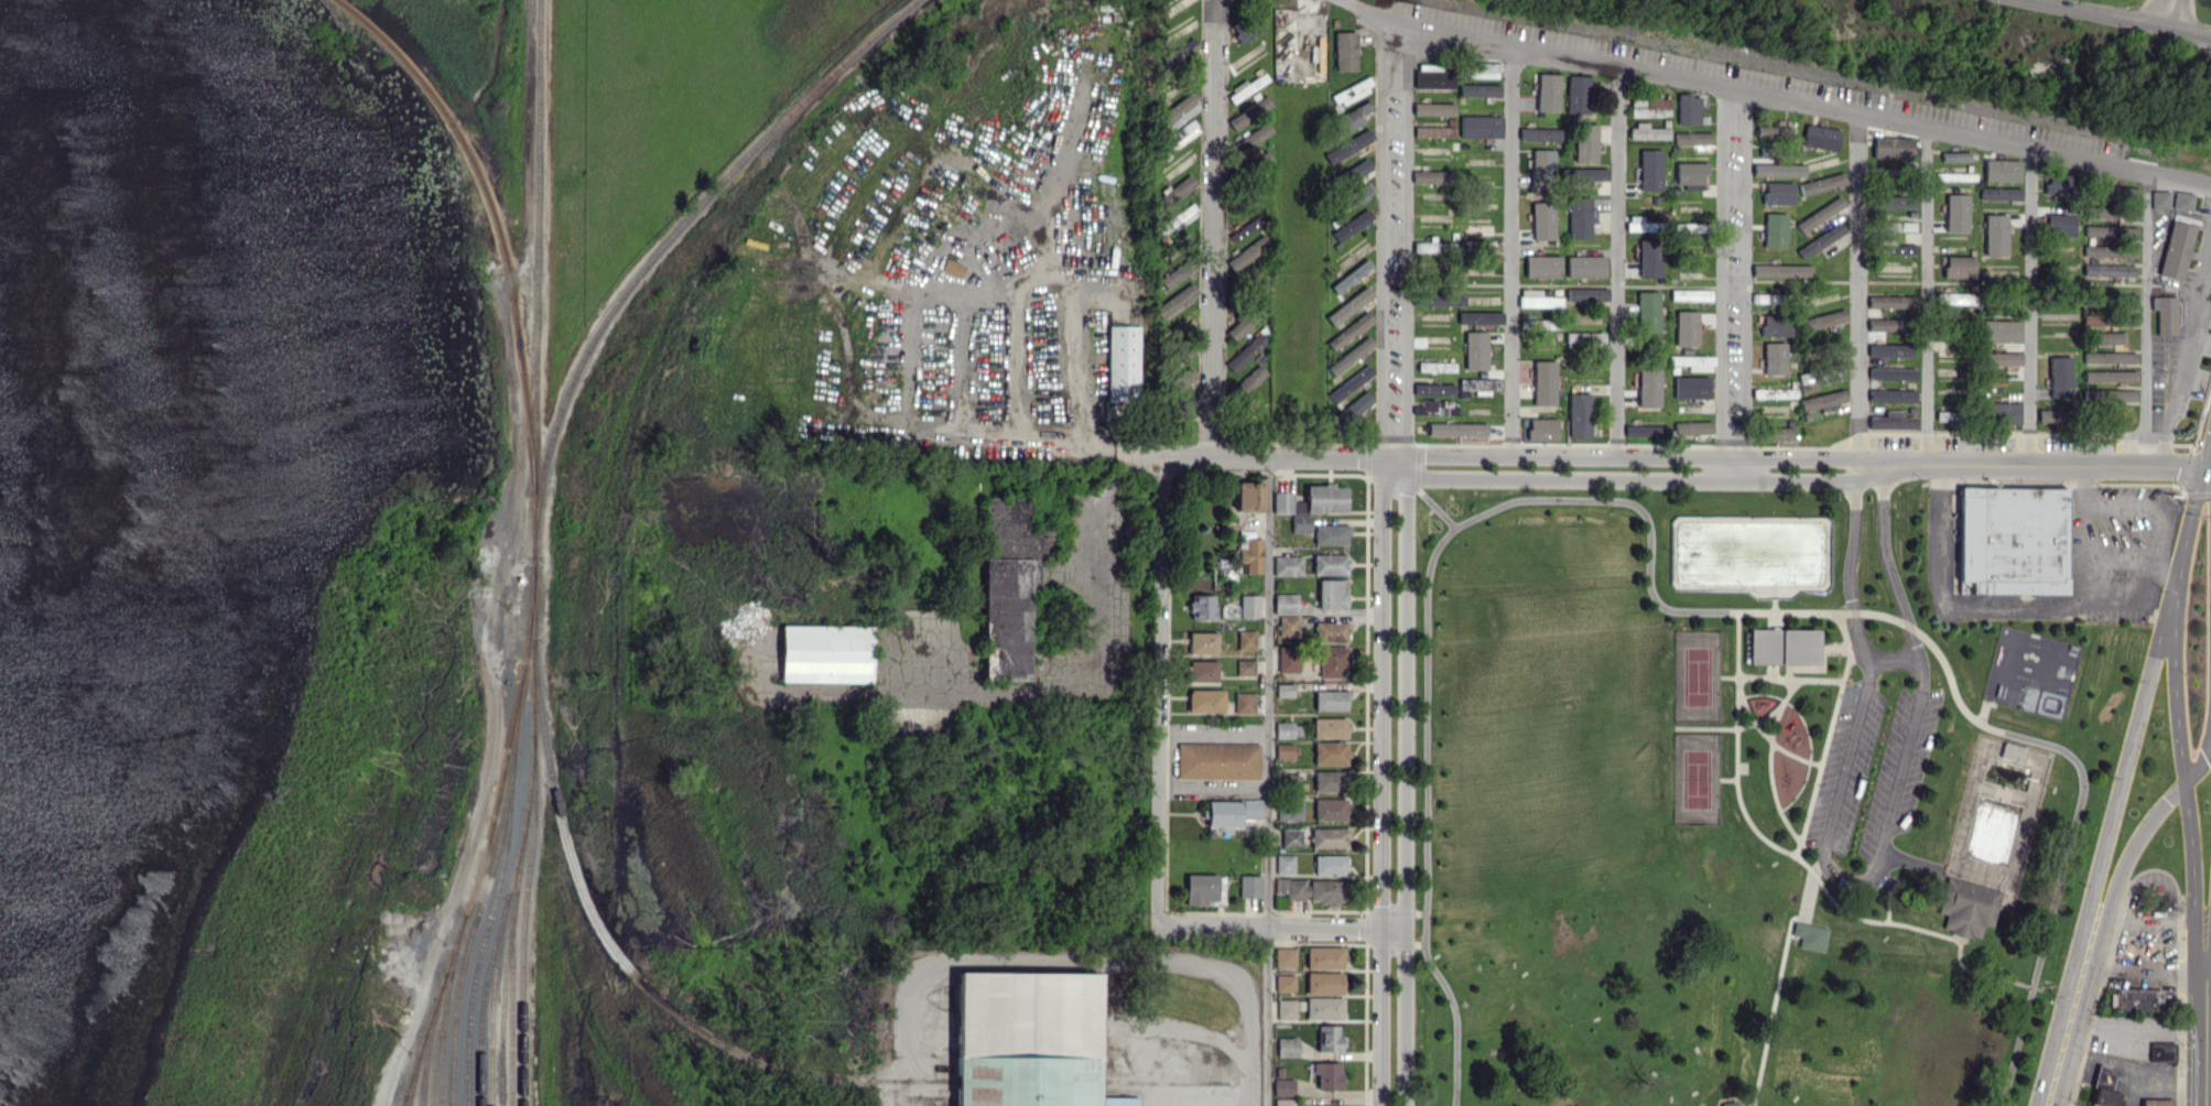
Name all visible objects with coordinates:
road: (2161, 10)
road: (2125, 14)
building: (1248, 30)
building: (1345, 51)
building: (1180, 52)
building: (1481, 69)
building: (1433, 79)
building: (1247, 86)
building: (1478, 90)
road: (1774, 90)
building: (1548, 91)
building: (1351, 93)
building: (1576, 94)
building: (1649, 107)
building: (1433, 108)
building: (1688, 109)
building: (1179, 111)
building: (1249, 112)
building: (1354, 116)
building: (1480, 126)
building: (1433, 131)
building: (1647, 131)
building: (1773, 131)
building: (1539, 133)
building: (1181, 134)
building: (1820, 137)
building: (1692, 138)
building: (1585, 142)
building: (1348, 145)
building: (1892, 148)
building: (1954, 155)
building: (1357, 169)
building: (1541, 169)
building: (1650, 170)
building: (1778, 170)
building: (2001, 170)
building: (1583, 174)
building: (1690, 174)
building: (1431, 176)
building: (1821, 183)
building: (2056, 185)
building: (1178, 189)
building: (1778, 193)
building: (1999, 193)
building: (1356, 196)
building: (2159, 199)
building: (2181, 200)
building: (1895, 202)
building: (1955, 213)
building: (1820, 214)
building: (1579, 217)
railway: (495, 219)
building: (1177, 219)
building: (1542, 220)
building: (1639, 224)
building: (1352, 225)
building: (2059, 225)
road: (1214, 228)
building: (1686, 228)
building: (1775, 230)
building: (2109, 231)
building: (1995, 234)
building: (1820, 240)
railway: (669, 242)
road: (1395, 242)
building: (1424, 247)
building: (1897, 248)
building: (2176, 250)
building: (2109, 251)
building: (1247, 253)
road: (1508, 256)
building: (1649, 258)
building: (1542, 265)
building: (1585, 265)
road: (1617, 265)
building: (951, 267)
building: (1959, 267)
building: (1781, 270)
building: (2109, 270)
building: (1177, 273)
building: (1351, 275)
road: (1731, 275)
railway: (537, 278)
road: (1857, 289)
road: (1000, 291)
building: (1586, 293)
building: (1690, 294)
road: (1927, 295)
building: (1766, 297)
building: (1955, 297)
building: (1439, 299)
building: (1538, 299)
building: (1175, 300)
building: (1888, 301)
building: (1348, 306)
road: (2029, 306)
building: (1648, 311)
building: (2165, 314)
building: (1480, 317)
road: (2145, 318)
building: (1246, 319)
building: (1822, 319)
building: (2093, 319)
building: (1536, 324)
building: (1773, 324)
building: (1883, 324)
building: (1686, 328)
building: (1350, 330)
building: (1999, 330)
building: (1584, 337)
building: (2106, 337)
building: (1946, 348)
building: (1889, 349)
building: (1475, 350)
building: (1246, 351)
building: (1350, 355)
road: (2189, 356)
building: (2109, 357)
building: (1774, 358)
building: (2001, 358)
road: (1017, 359)
building: (1692, 361)
building: (1123, 364)
building: (1435, 366)
building: (1892, 373)
building: (2059, 376)
building: (2109, 376)
building: (1182, 379)
building: (1248, 380)
building: (1543, 382)
building: (1350, 383)
building: (1476, 387)
building: (1648, 387)
building: (1691, 387)
building: (1433, 389)
building: (1774, 392)
building: (1892, 394)
building: (2109, 395)
building: (1822, 400)
building: (1351, 410)
building: (2002, 412)
building: (1579, 414)
building: (2050, 414)
building: (1892, 420)
building: (1692, 426)
building: (1456, 429)
building: (1542, 429)
building: (1646, 430)
building: (1778, 432)
road: (2207, 452)
traffic signals: (2202, 468)
road: (1686, 469)
building: (1248, 496)
building: (1325, 498)
building: (1282, 501)
building: (1301, 523)
building: (1331, 533)
road: (2183, 538)
building: (2013, 541)
road: (2157, 544)
building: (1250, 553)
road: (2118, 553)
building: (1775, 560)
building: (1330, 564)
building: (1287, 565)
building: (1008, 586)
building: (1331, 594)
building: (1286, 603)
road: (2012, 604)
building: (1202, 606)
building: (1248, 606)
building: (1288, 626)
building: (1331, 631)
road: (1926, 636)
building: (1246, 639)
building: (1202, 642)
building: (1780, 644)
building: (825, 653)
building: (1288, 659)
road: (1890, 659)
building: (1332, 661)
building: (1245, 666)
building: (1202, 670)
park: (2031, 671)
park: (1698, 675)
parking lot: (1864, 687)
building: (1283, 690)
road: (1161, 691)
building: (1331, 700)
building: (1205, 701)
building: (1244, 702)
railway: (517, 709)
building: (1329, 727)
building: (1283, 729)
road: (1214, 733)
building: (1283, 750)
building: (2012, 751)
building: (1330, 752)
building: (1217, 760)
park: (1697, 778)
road: (1268, 781)
building: (1286, 781)
building: (1329, 781)
road: (1381, 783)
road: (1406, 784)
road: (1214, 785)
road: (2187, 788)
road: (1427, 790)
park: (1742, 804)
building: (1250, 809)
building: (1330, 809)
building: (1289, 810)
water park: (1997, 812)
building: (1223, 814)
railway: (532, 831)
building: (1291, 836)
building: (1329, 837)
railway: (488, 839)
road: (2105, 845)
building: (1285, 864)
building: (1330, 865)
road: (1854, 878)
building: (1249, 886)
building: (1291, 888)
building: (1201, 889)
building: (1326, 891)
road: (2110, 903)
building: (1966, 906)
railway: (511, 920)
road: (1282, 925)
railway: (472, 926)
railway: (485, 928)
building: (1810, 936)
building: (1285, 956)
railway: (496, 957)
building: (1324, 957)
road: (1076, 959)
road: (2152, 966)
building: (1285, 983)
building: (1323, 983)
railway: (511, 999)
building: (2137, 999)
railway: (483, 1000)
building: (1323, 1008)
building: (1286, 1009)
railway: (445, 1010)
road: (2210, 1035)
railway: (430, 1038)
railway: (436, 1038)
building: (1329, 1039)
building: (1027, 1040)
building: (1287, 1047)
building: (2163, 1050)
railway: (744, 1055)
railway: (412, 1070)
road: (2210, 1070)
building: (1327, 1075)
building: (1283, 1086)
building: (2103, 1086)
road: (2049, 1095)
road: (2210, 1096)
railway: (402, 1100)
railway: (408, 1100)
building: (1283, 1102)
building: (2158, 1102)
building: (1730, 1103)
road: (2051, 1105)

